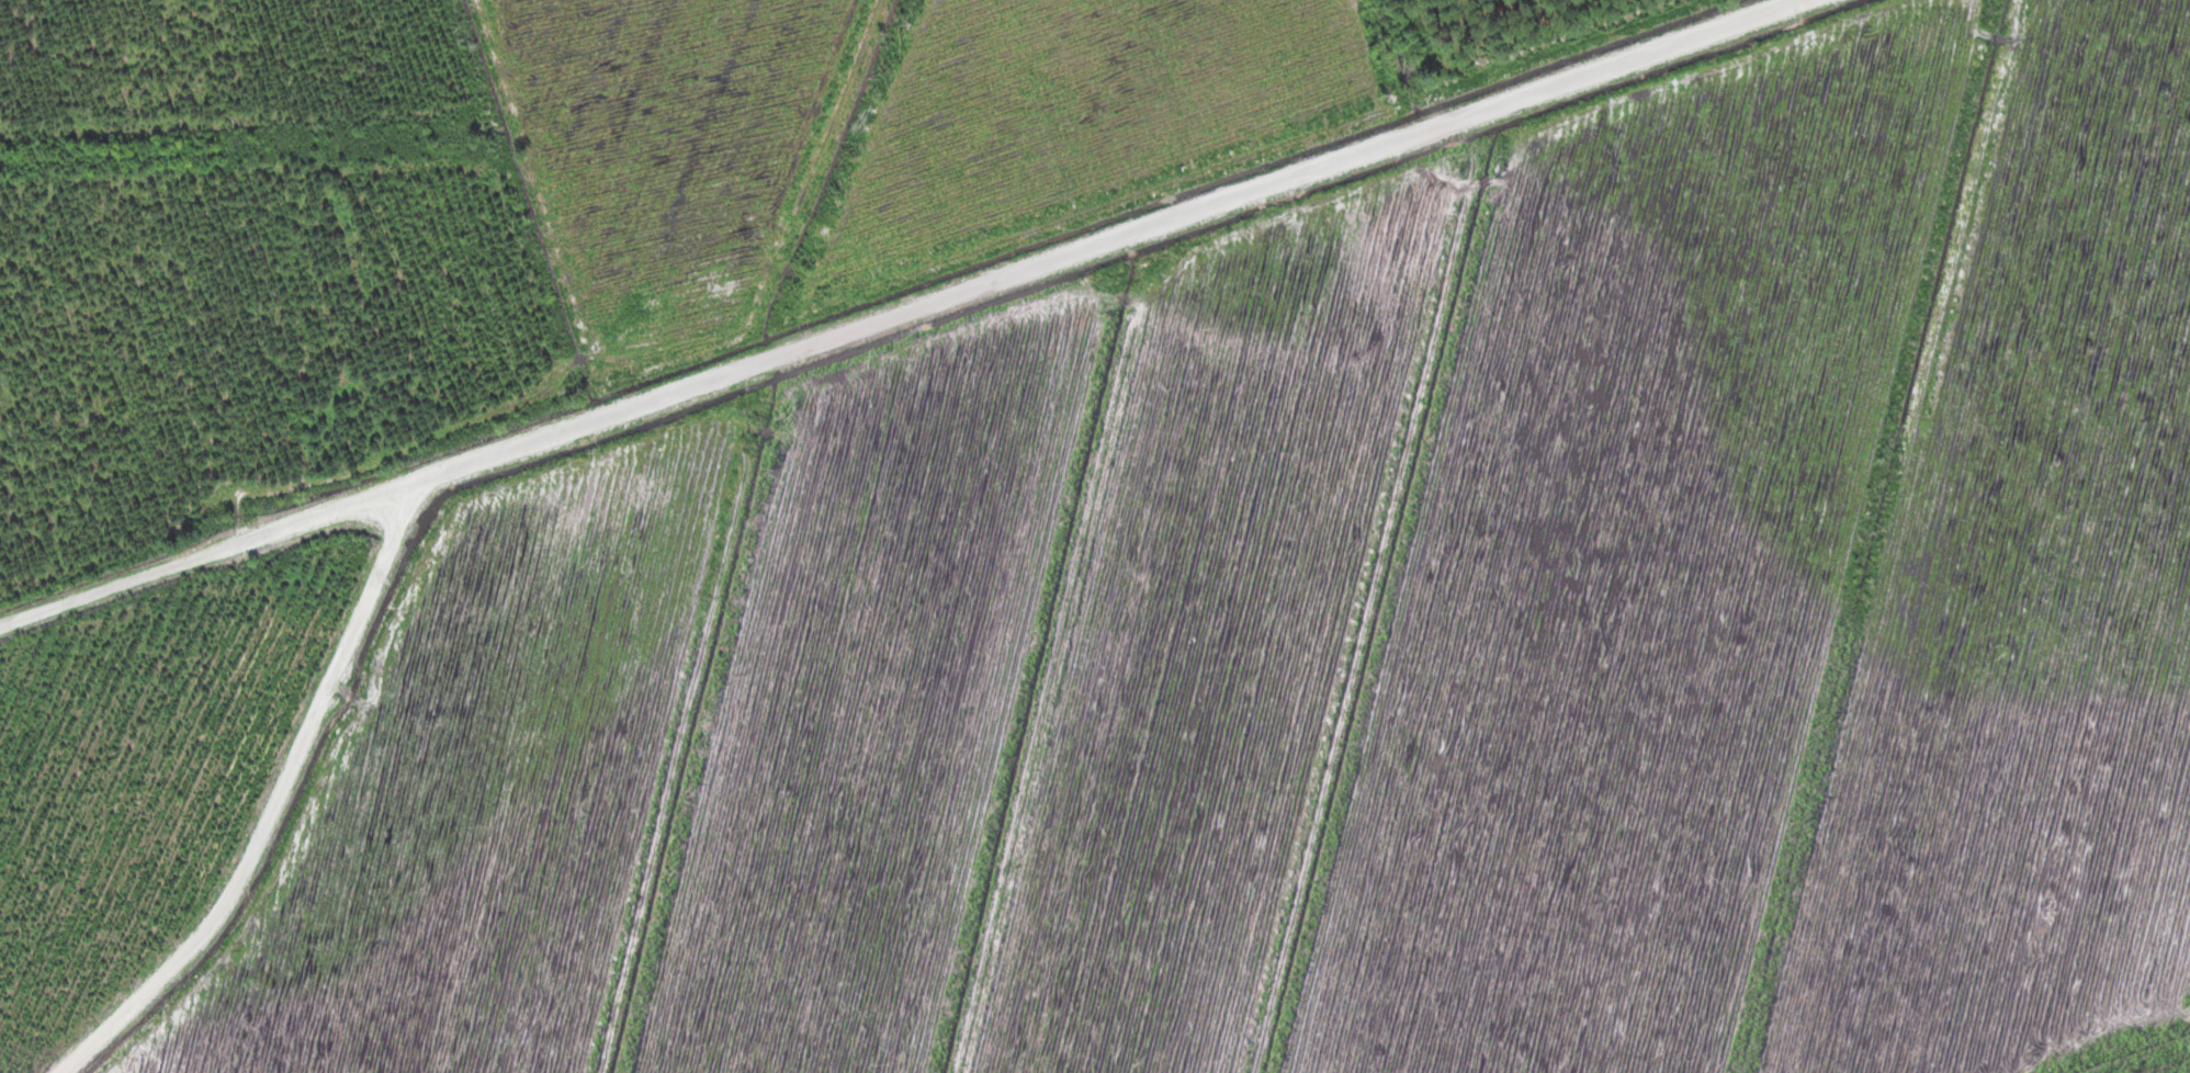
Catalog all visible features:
road: (778, 353)
road: (189, 573)

